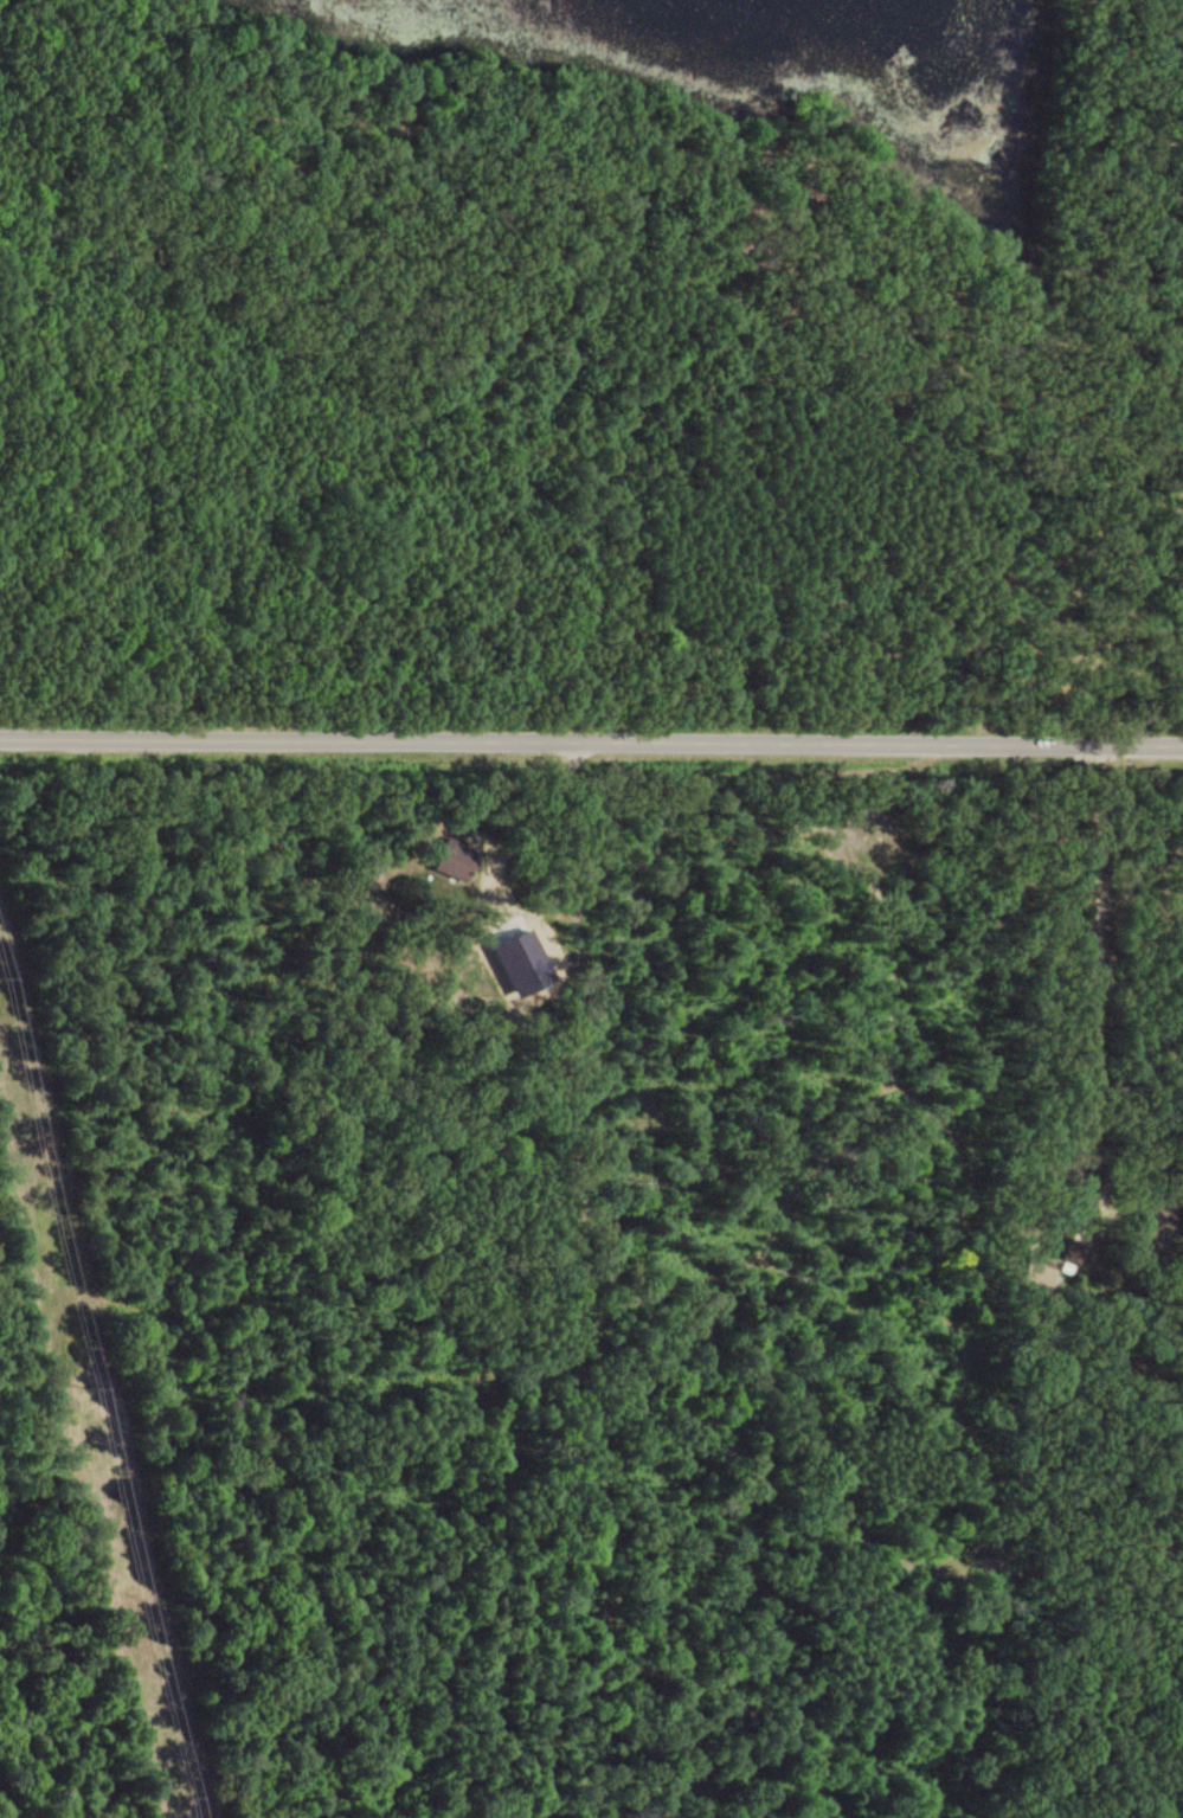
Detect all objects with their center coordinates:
road: (671, 229)
road: (591, 734)
building: (455, 856)
building: (374, 879)
road: (1099, 982)
building: (1071, 1250)
building: (1036, 1272)

